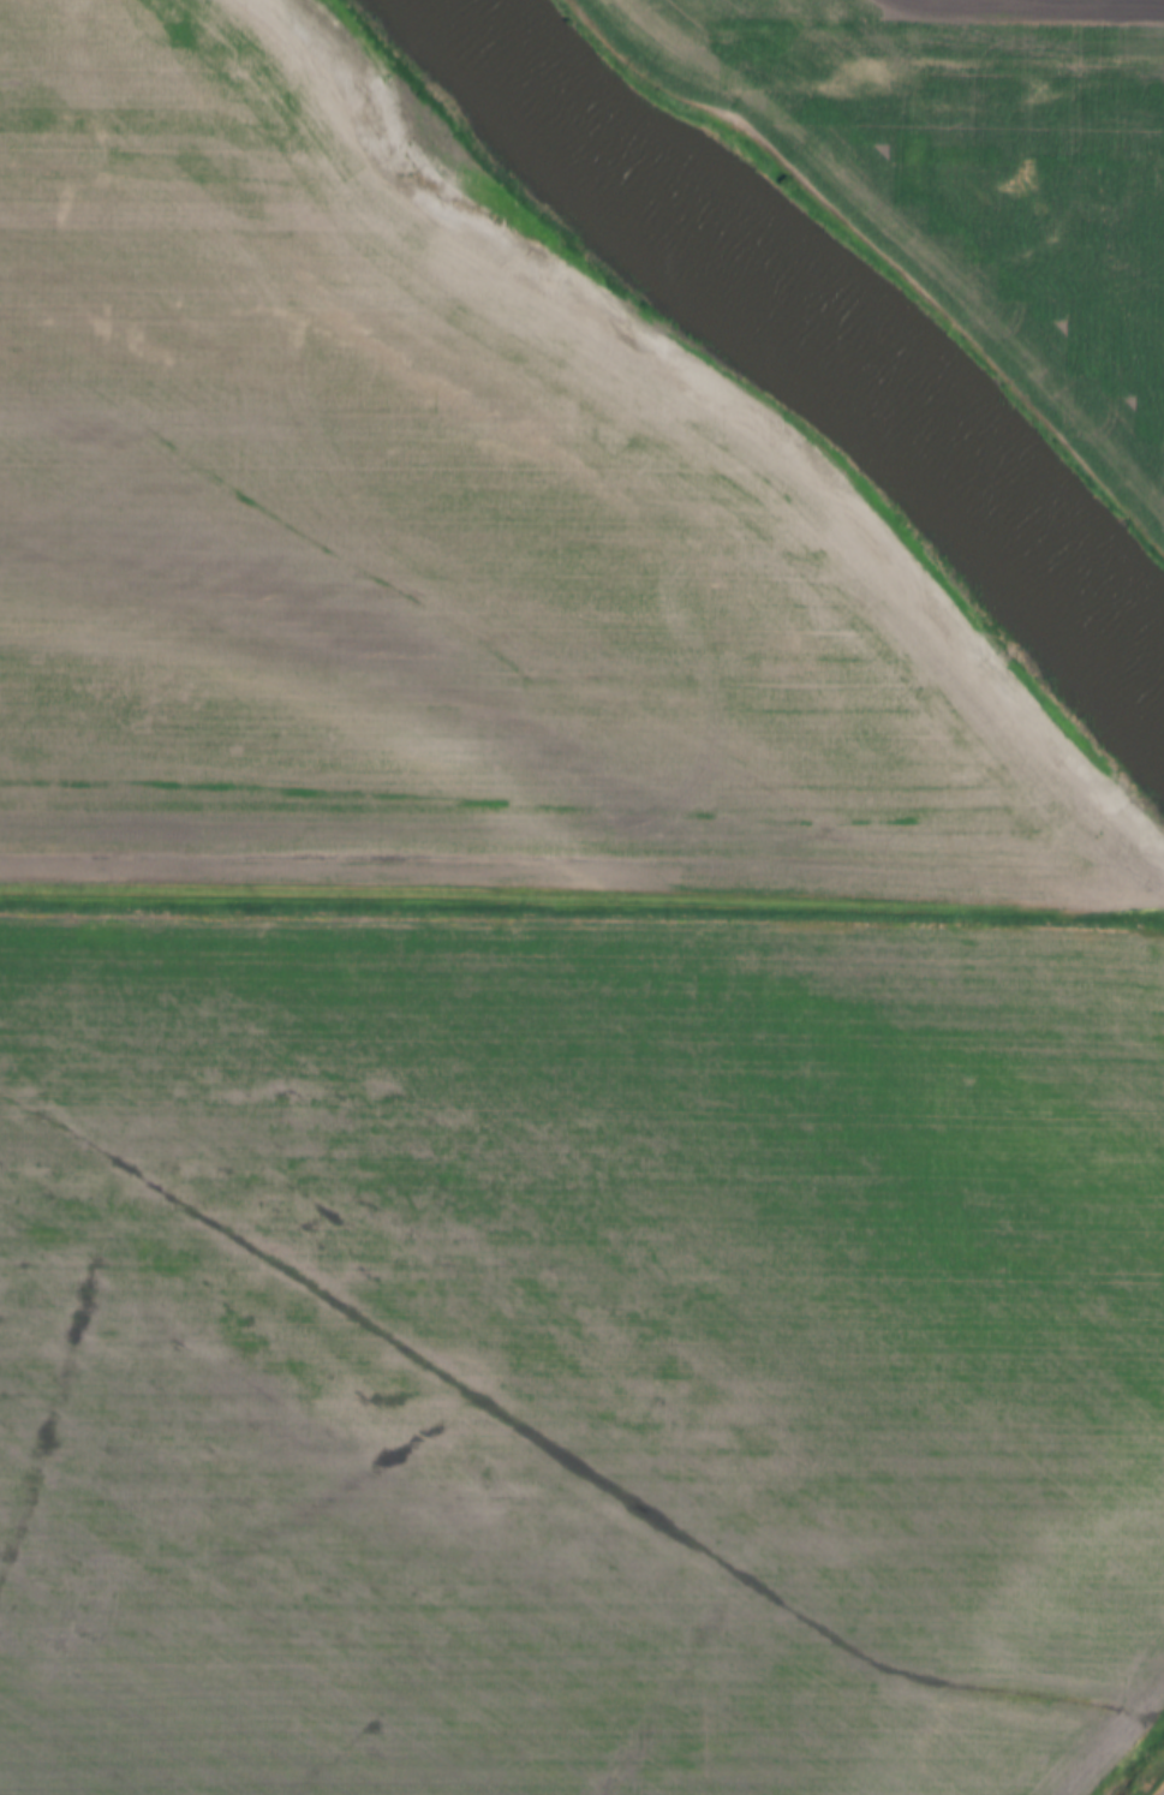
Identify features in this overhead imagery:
river: (820, 330)
road: (581, 922)

